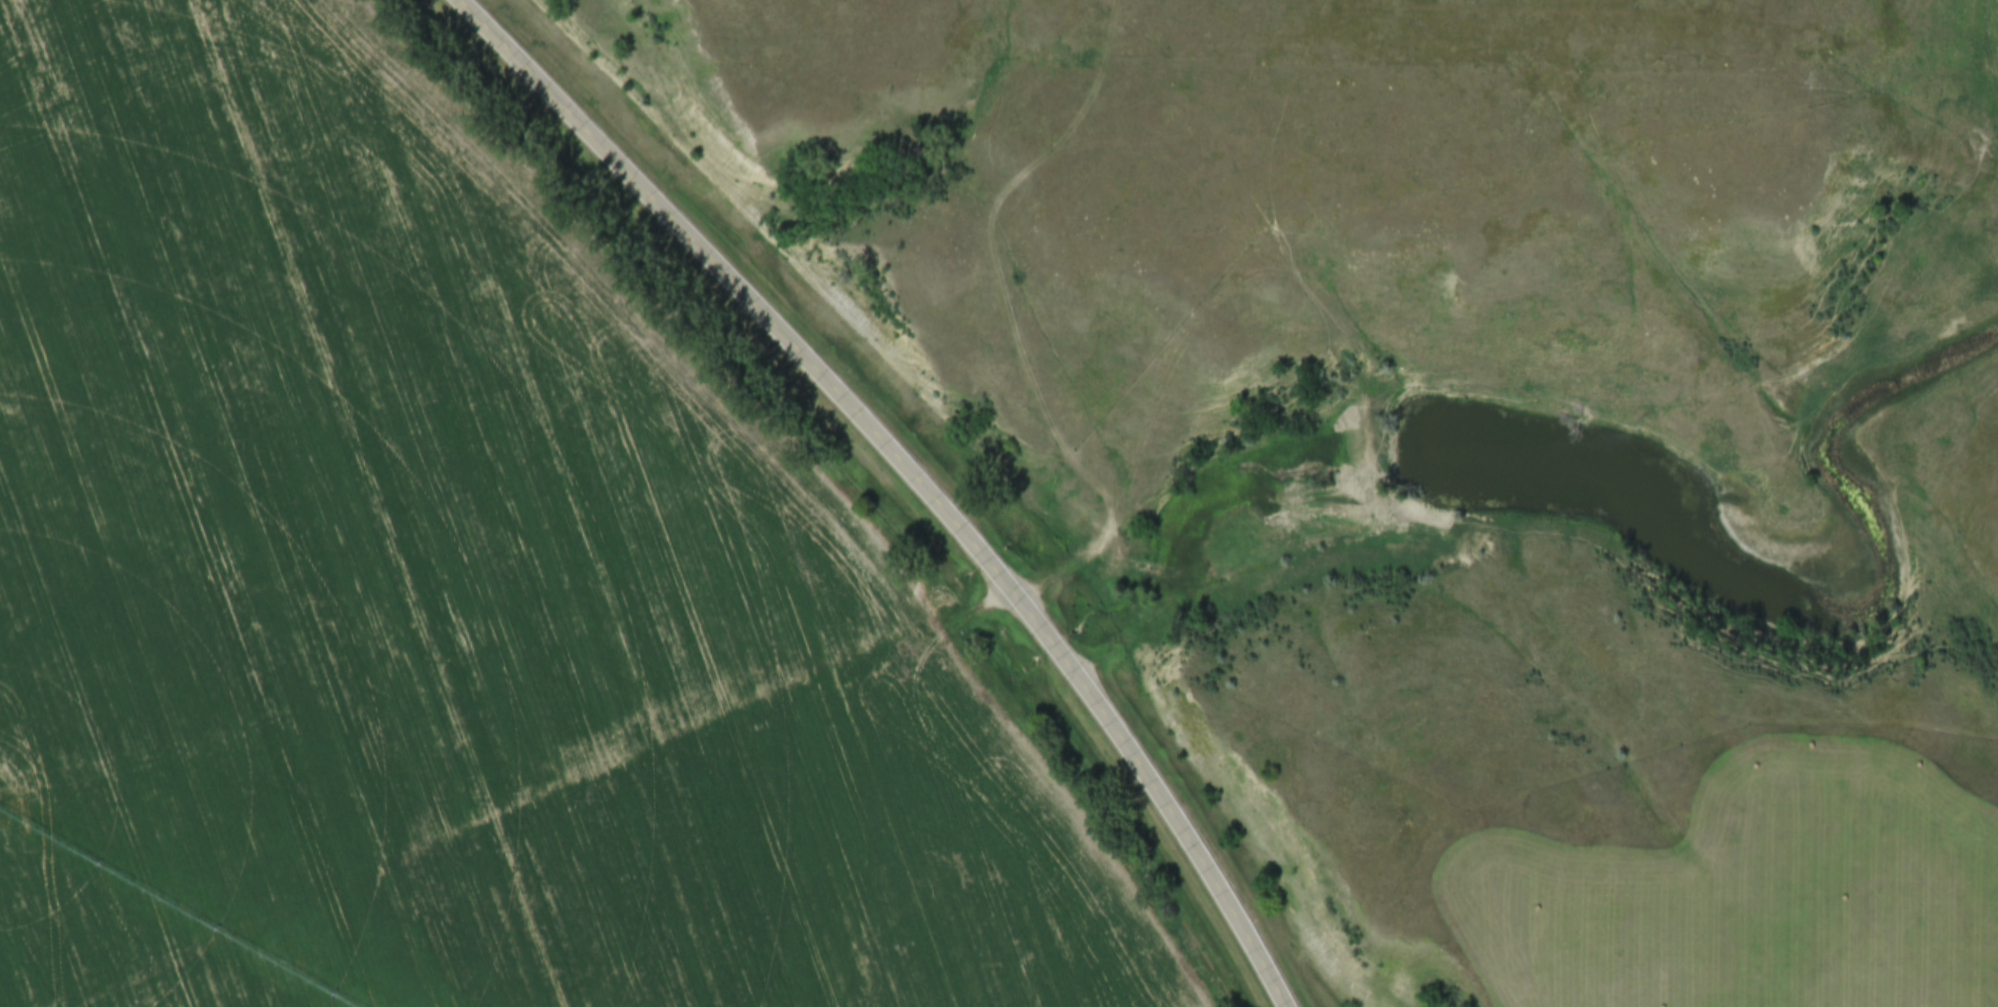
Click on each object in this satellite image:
road: (905, 471)

